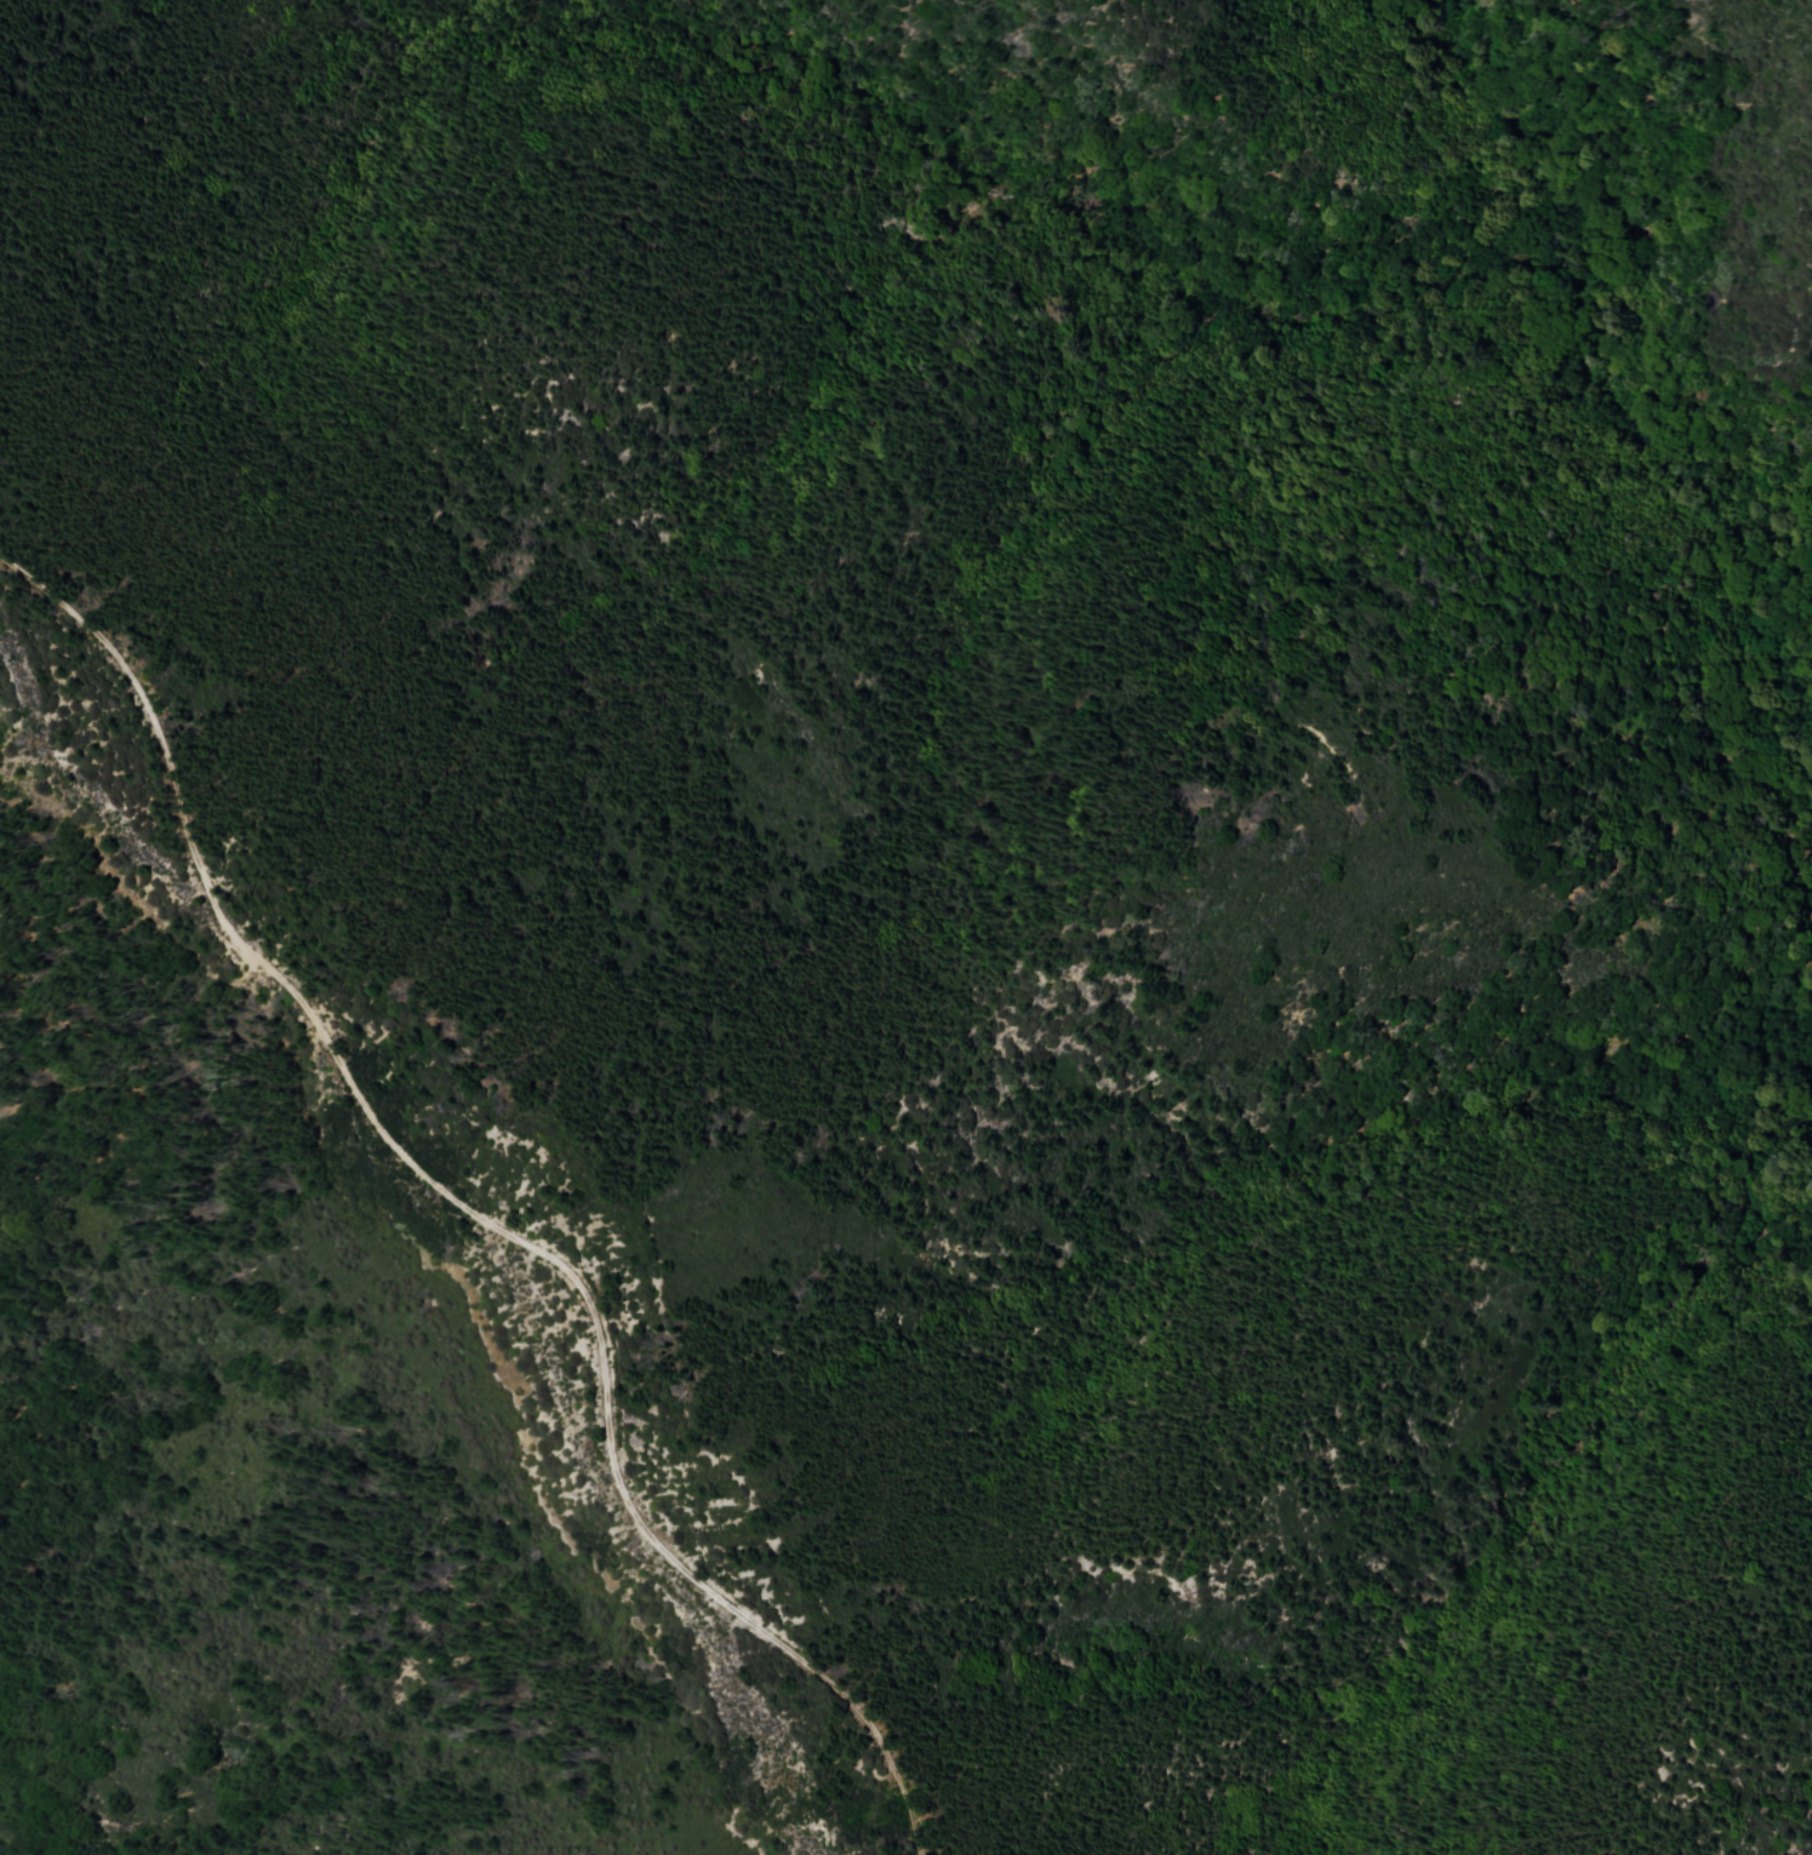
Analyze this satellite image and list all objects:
road: (471, 1210)

